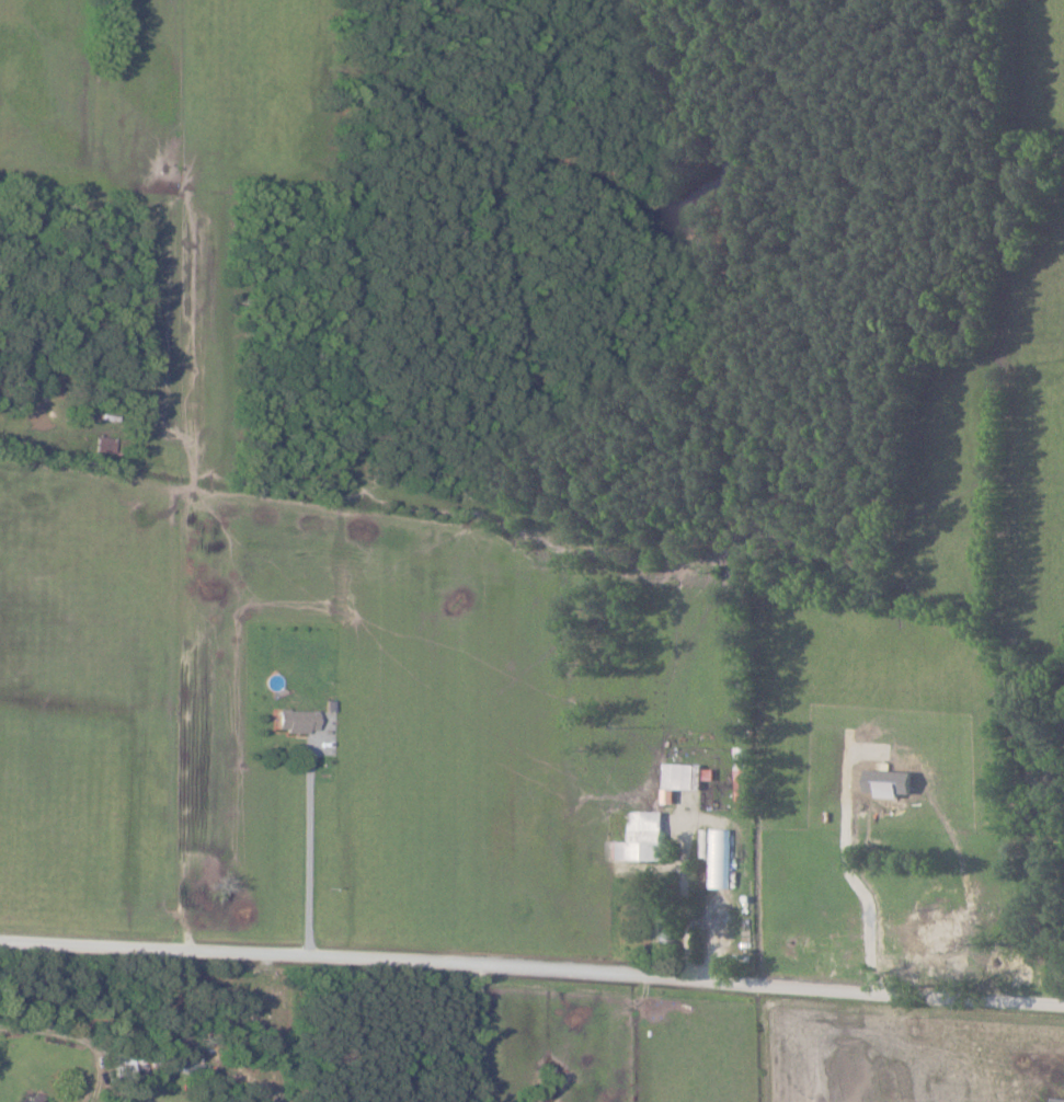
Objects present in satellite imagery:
building: (299, 720)
building: (743, 777)
building: (682, 778)
building: (645, 838)
road: (308, 852)
building: (718, 854)
road: (689, 889)
building: (941, 949)
road: (240, 951)
road: (771, 979)
road: (479, 1033)
road: (77, 1036)
building: (125, 1065)
building: (42, 1101)

